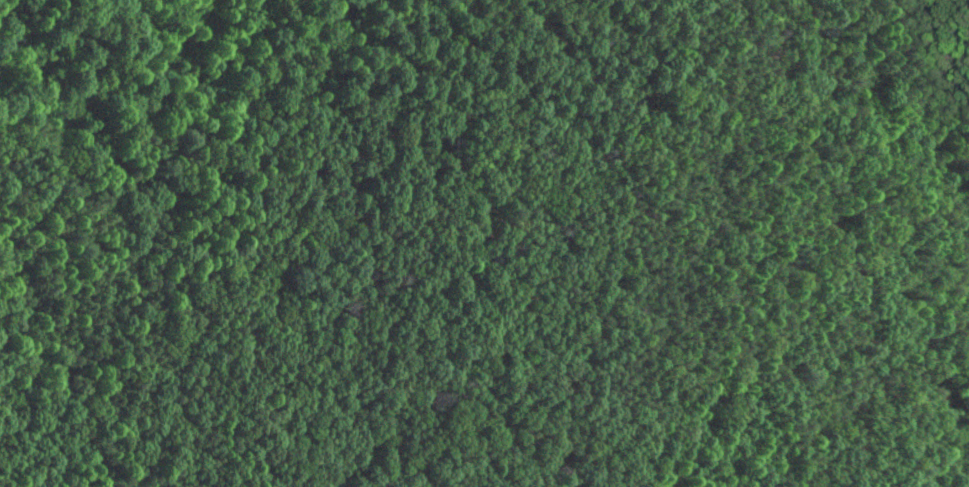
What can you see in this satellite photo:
road: (205, 122)
road: (40, 369)

